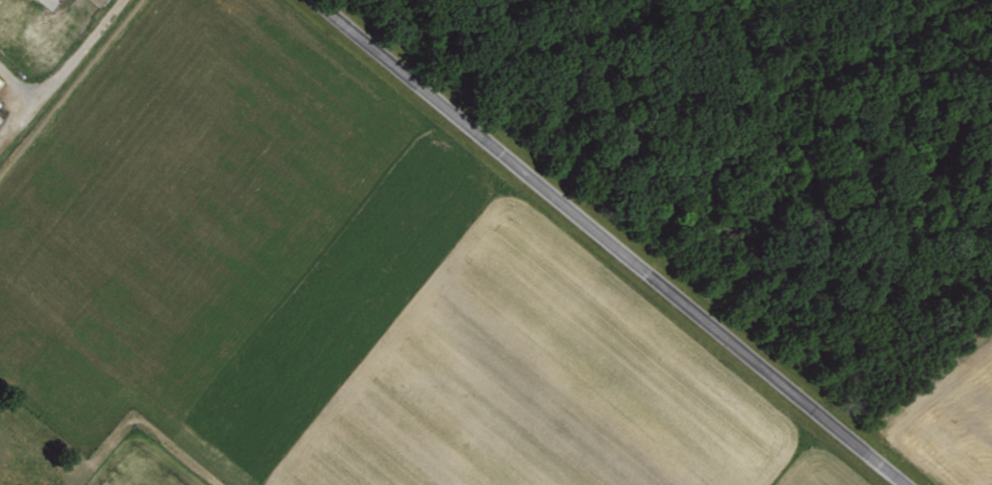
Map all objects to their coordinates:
road: (60, 72)
road: (610, 242)

